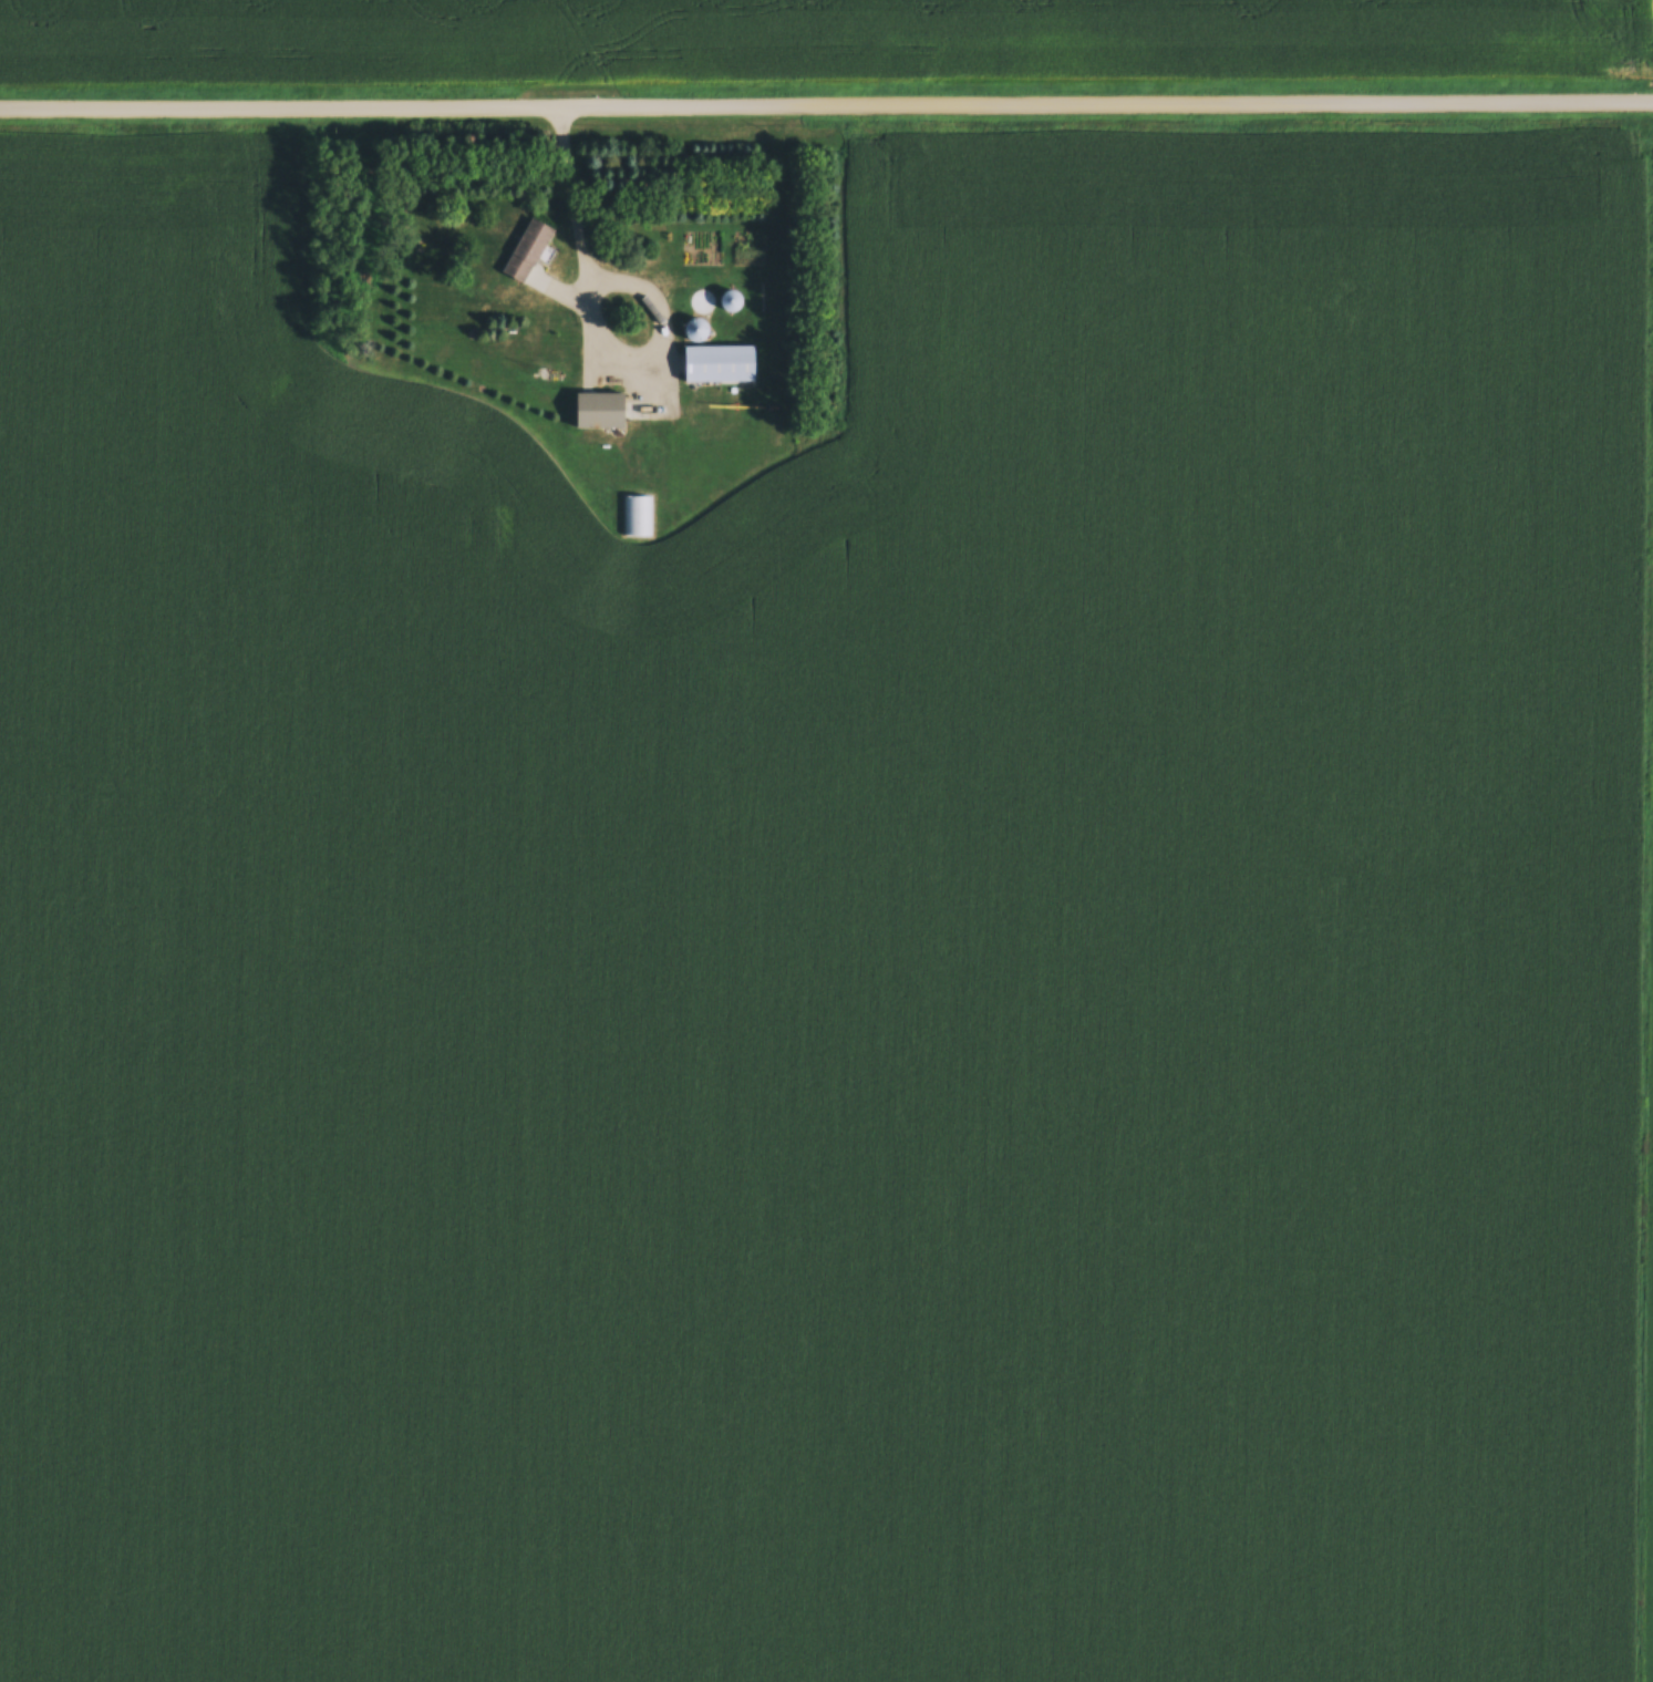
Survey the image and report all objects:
road: (826, 96)
building: (528, 249)
road: (593, 322)
building: (695, 329)
building: (720, 362)
building: (600, 409)
building: (637, 515)

